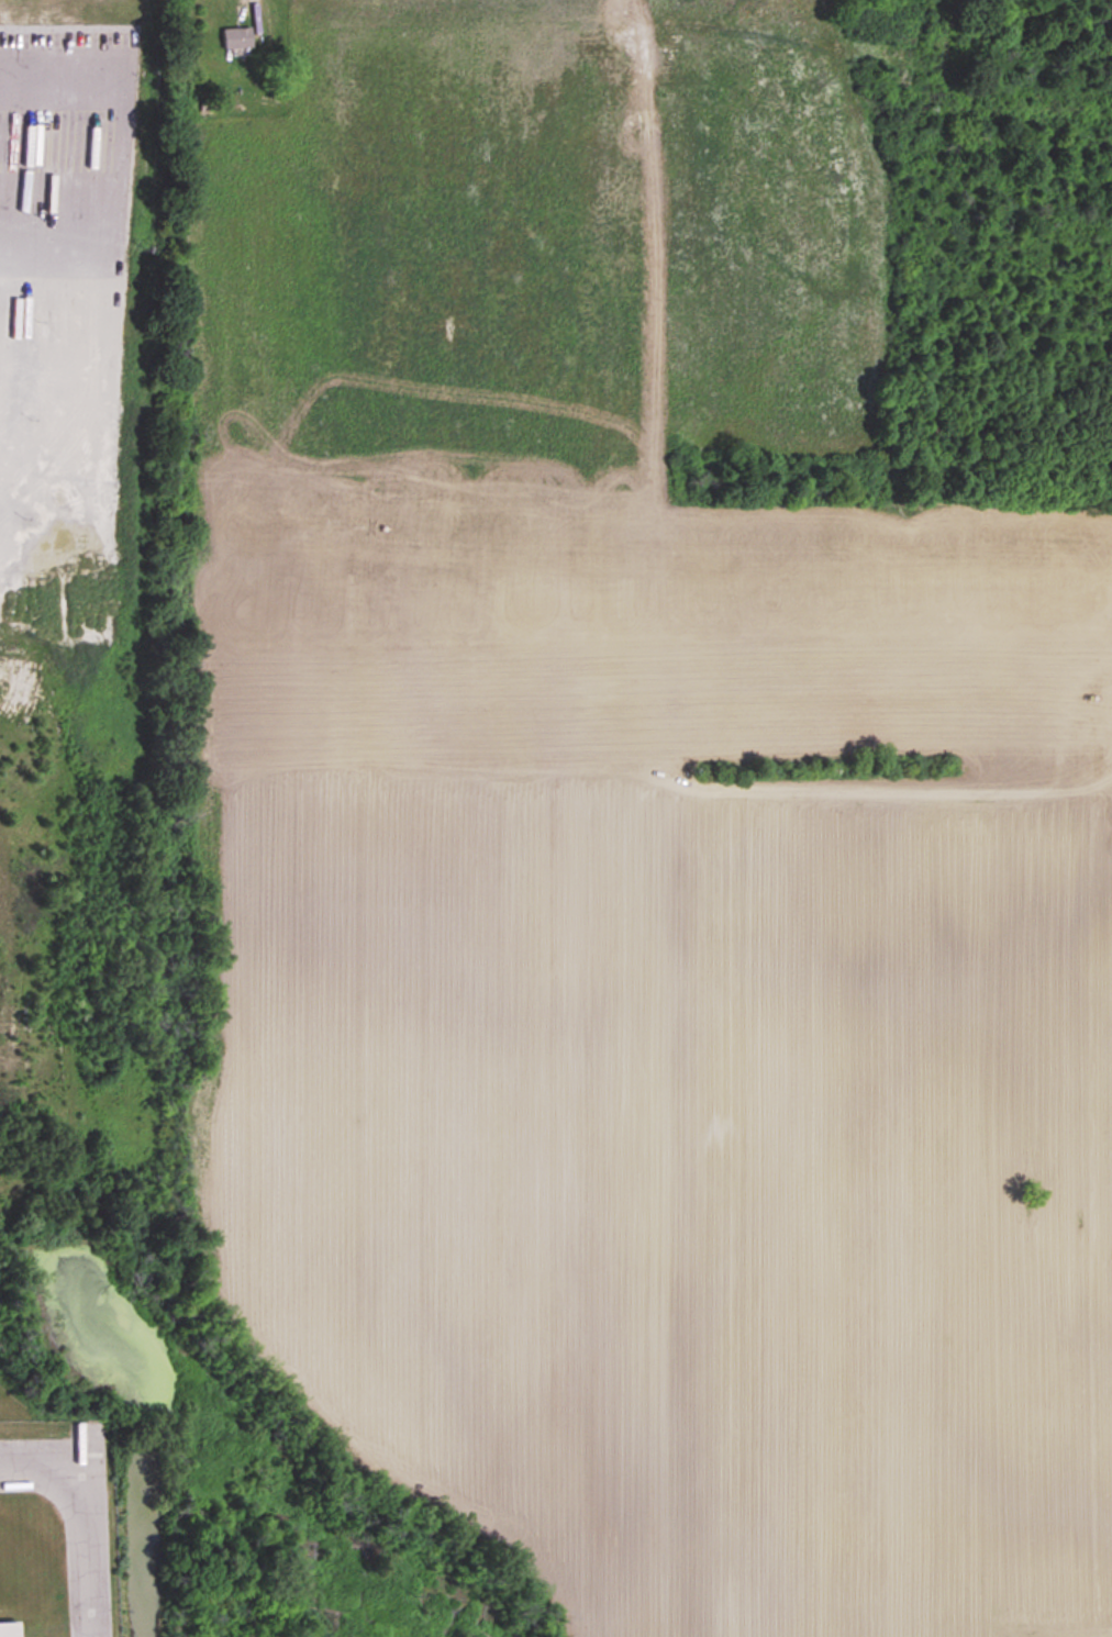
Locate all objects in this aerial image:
building: (236, 38)
road: (57, 76)
road: (80, 1518)
building: (9, 1629)

